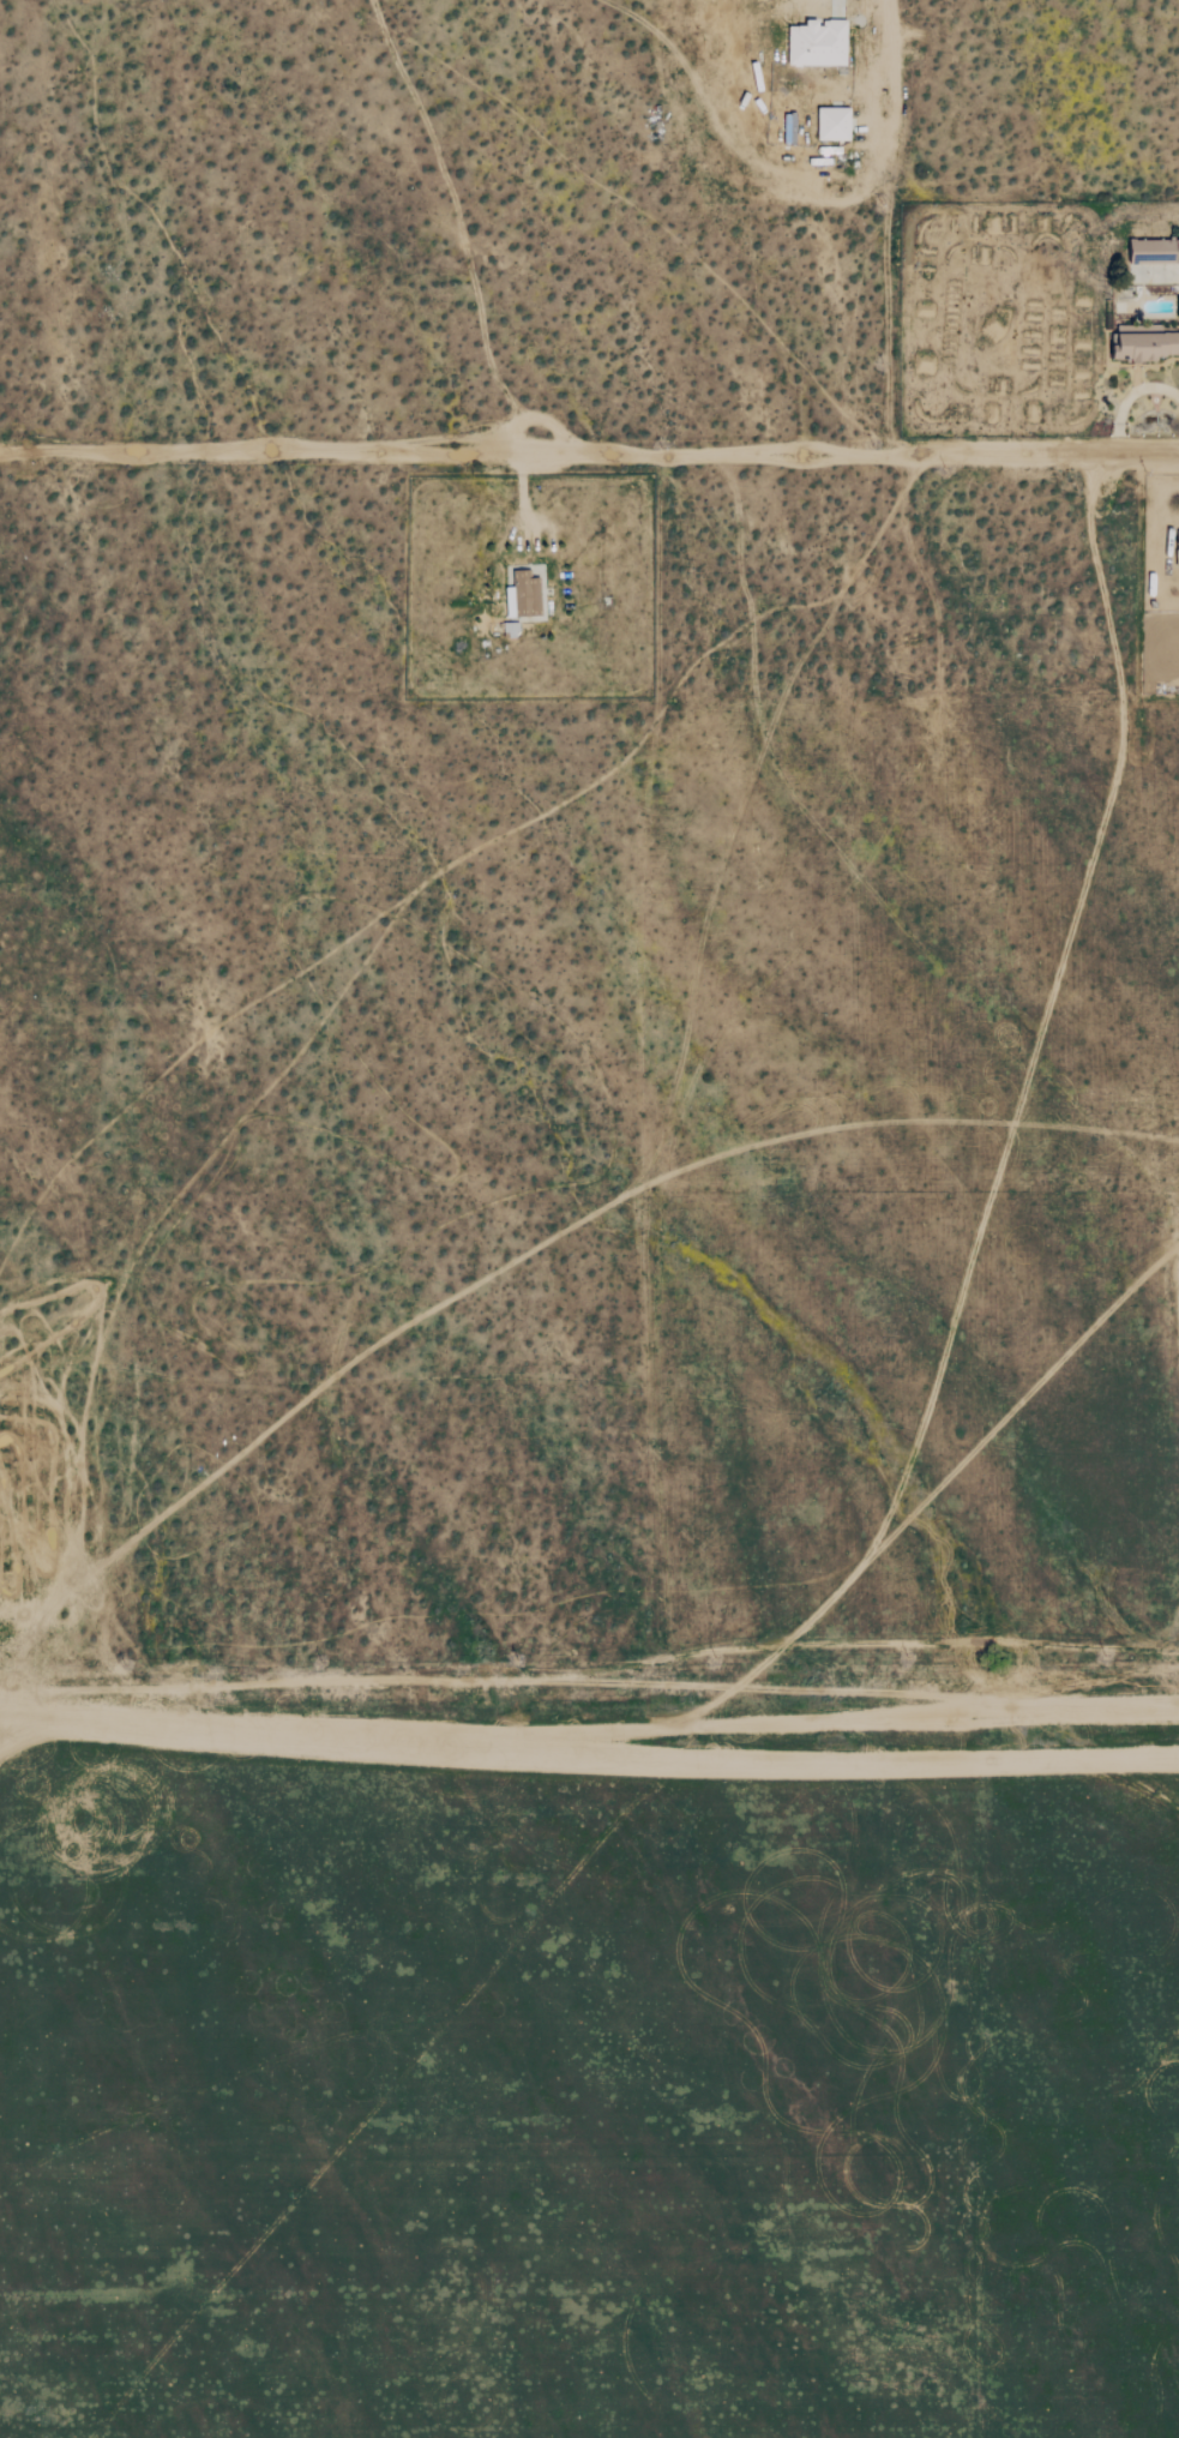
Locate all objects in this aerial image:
building: (819, 43)
road: (877, 83)
building: (834, 124)
building: (1155, 252)
building: (1145, 346)
road: (1129, 394)
road: (589, 449)
road: (523, 503)
building: (525, 596)
road: (589, 1671)

